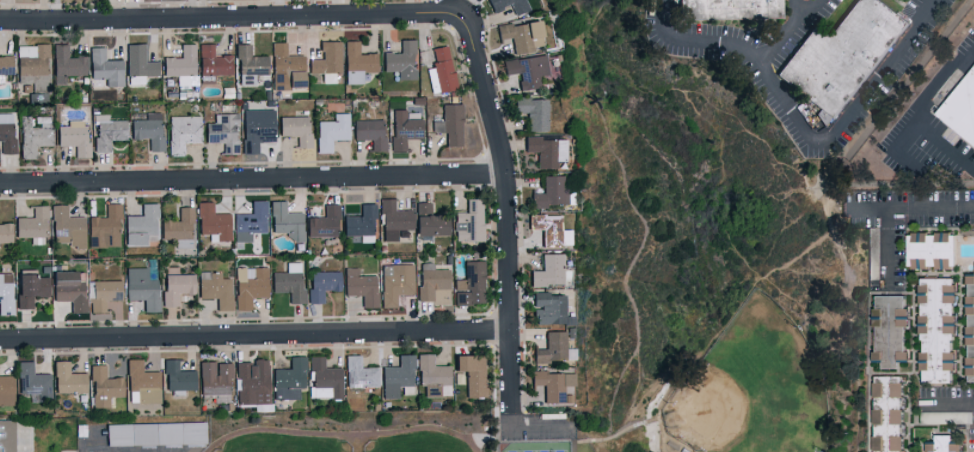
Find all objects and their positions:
building: (507, 5)
road: (792, 8)
road: (804, 8)
building: (731, 10)
road: (242, 15)
building: (521, 34)
road: (778, 39)
building: (327, 58)
building: (401, 60)
building: (843, 60)
building: (213, 62)
building: (357, 62)
building: (67, 64)
building: (138, 64)
building: (6, 65)
building: (33, 65)
building: (182, 65)
building: (249, 65)
building: (286, 67)
building: (104, 69)
building: (526, 69)
building: (441, 70)
building: (328, 77)
building: (958, 106)
building: (532, 111)
road: (917, 114)
building: (450, 123)
road: (802, 127)
building: (256, 128)
building: (295, 129)
building: (404, 129)
building: (148, 130)
building: (107, 131)
building: (223, 131)
building: (331, 131)
building: (183, 132)
building: (370, 132)
building: (7, 134)
building: (34, 134)
building: (74, 137)
road: (944, 143)
building: (545, 150)
road: (252, 177)
building: (553, 192)
road: (911, 207)
building: (394, 219)
building: (429, 220)
building: (250, 221)
building: (286, 221)
building: (324, 221)
building: (469, 221)
building: (213, 222)
road: (506, 224)
building: (32, 226)
building: (141, 226)
building: (67, 227)
building: (104, 227)
building: (179, 227)
building: (550, 229)
building: (5, 232)
road: (890, 246)
building: (930, 250)
building: (548, 270)
building: (431, 280)
building: (290, 282)
building: (396, 282)
building: (323, 284)
building: (470, 284)
building: (250, 285)
building: (361, 286)
building: (30, 287)
building: (177, 287)
building: (142, 288)
building: (215, 288)
building: (70, 289)
building: (6, 293)
building: (104, 293)
building: (550, 308)
building: (888, 329)
building: (935, 329)
building: (969, 329)
road: (255, 333)
building: (554, 348)
building: (359, 373)
building: (470, 374)
building: (397, 376)
building: (433, 376)
building: (177, 377)
building: (68, 379)
building: (215, 379)
building: (289, 379)
building: (324, 379)
park: (744, 381)
building: (32, 382)
building: (252, 382)
building: (141, 383)
building: (553, 384)
building: (103, 386)
building: (6, 389)
park: (755, 389)
road: (948, 404)
road: (535, 427)
parking lot: (537, 429)
building: (8, 438)
building: (149, 438)
building: (941, 444)
park: (537, 447)
park: (694, 451)

